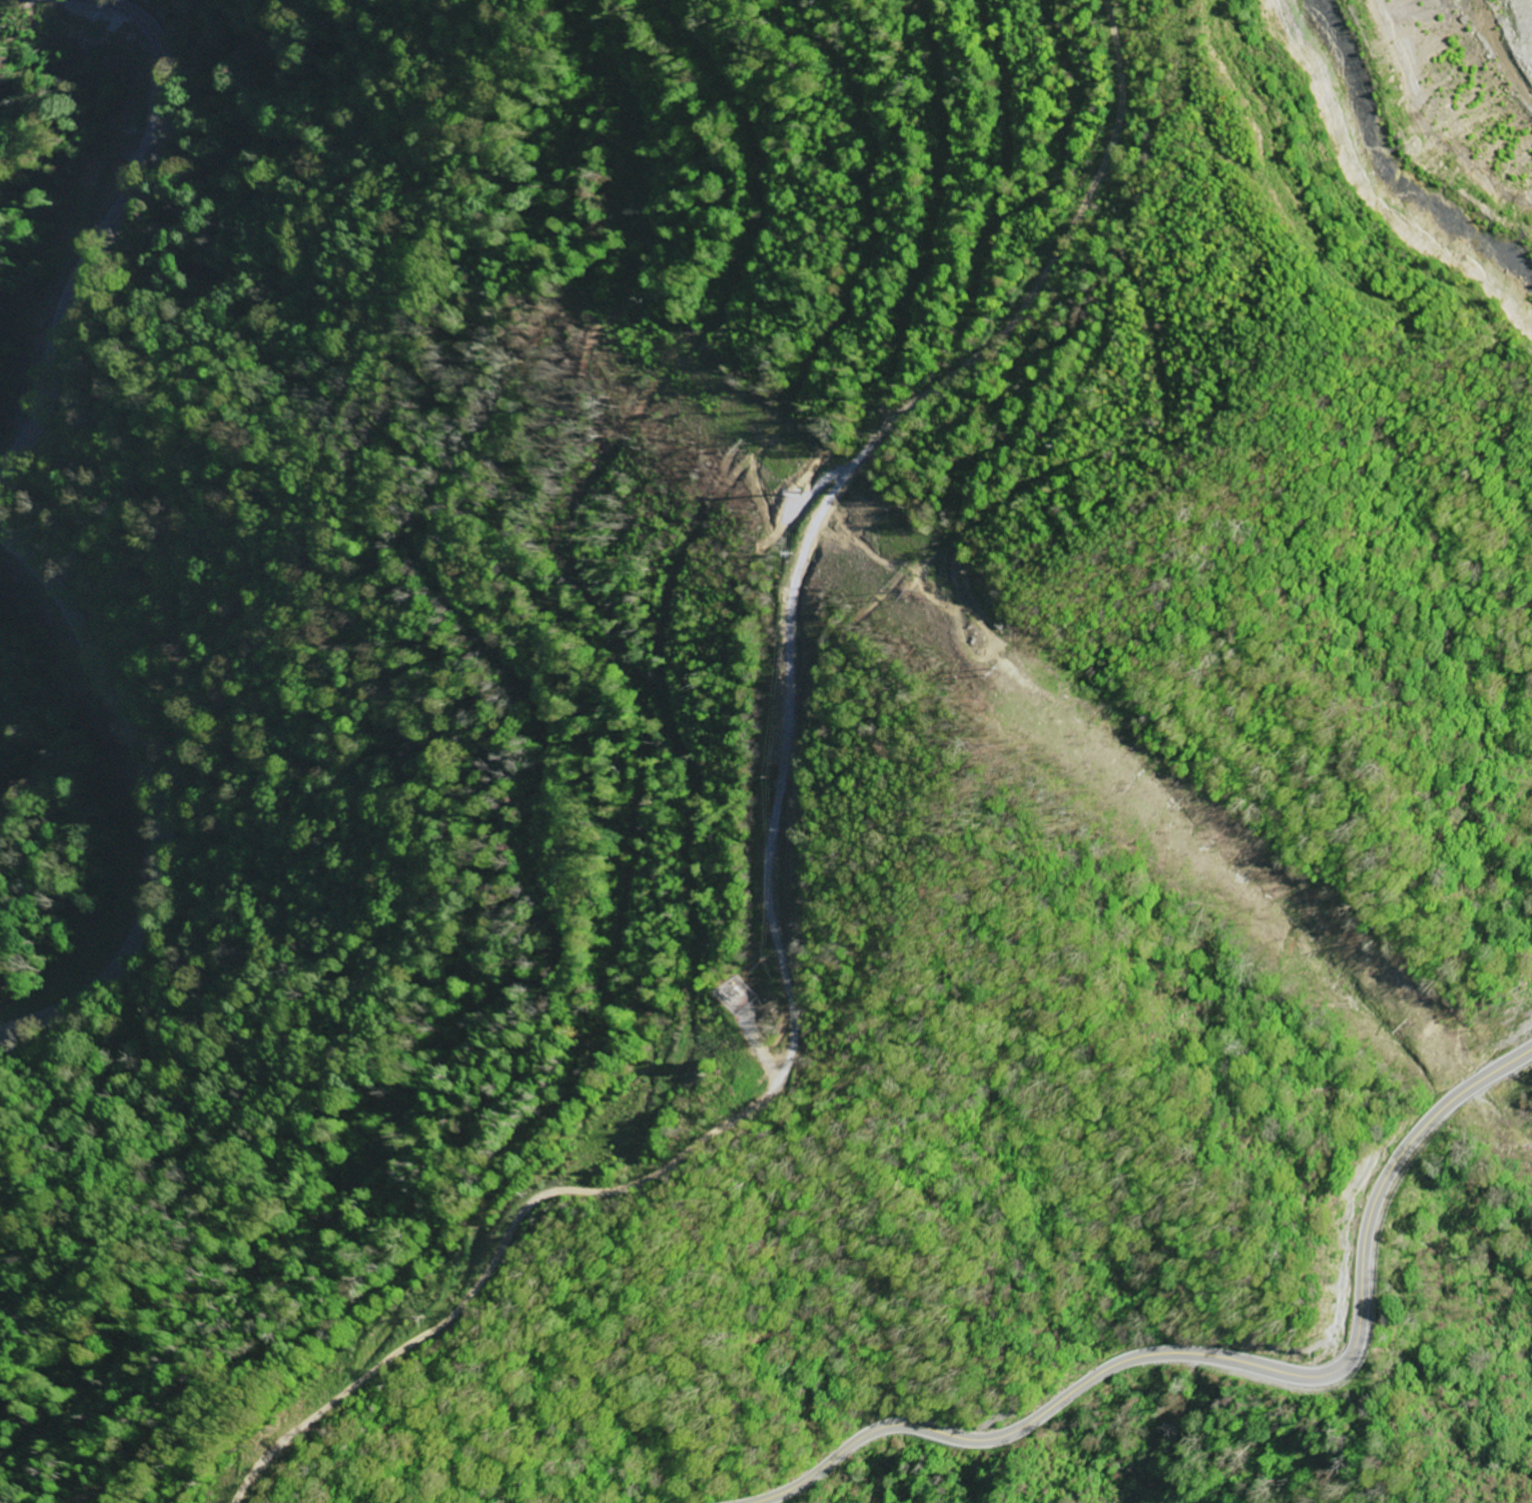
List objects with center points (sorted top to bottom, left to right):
road: (15, 536)
power tower: (931, 591)
road: (805, 669)
power tower: (1128, 789)
power tower: (1401, 1027)
road: (1222, 1357)
road: (350, 1385)

